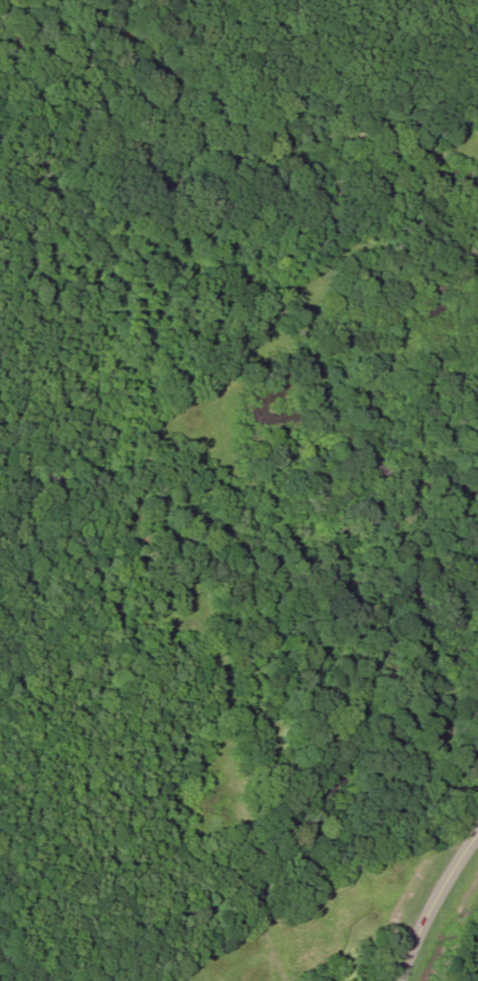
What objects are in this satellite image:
road: (436, 901)

